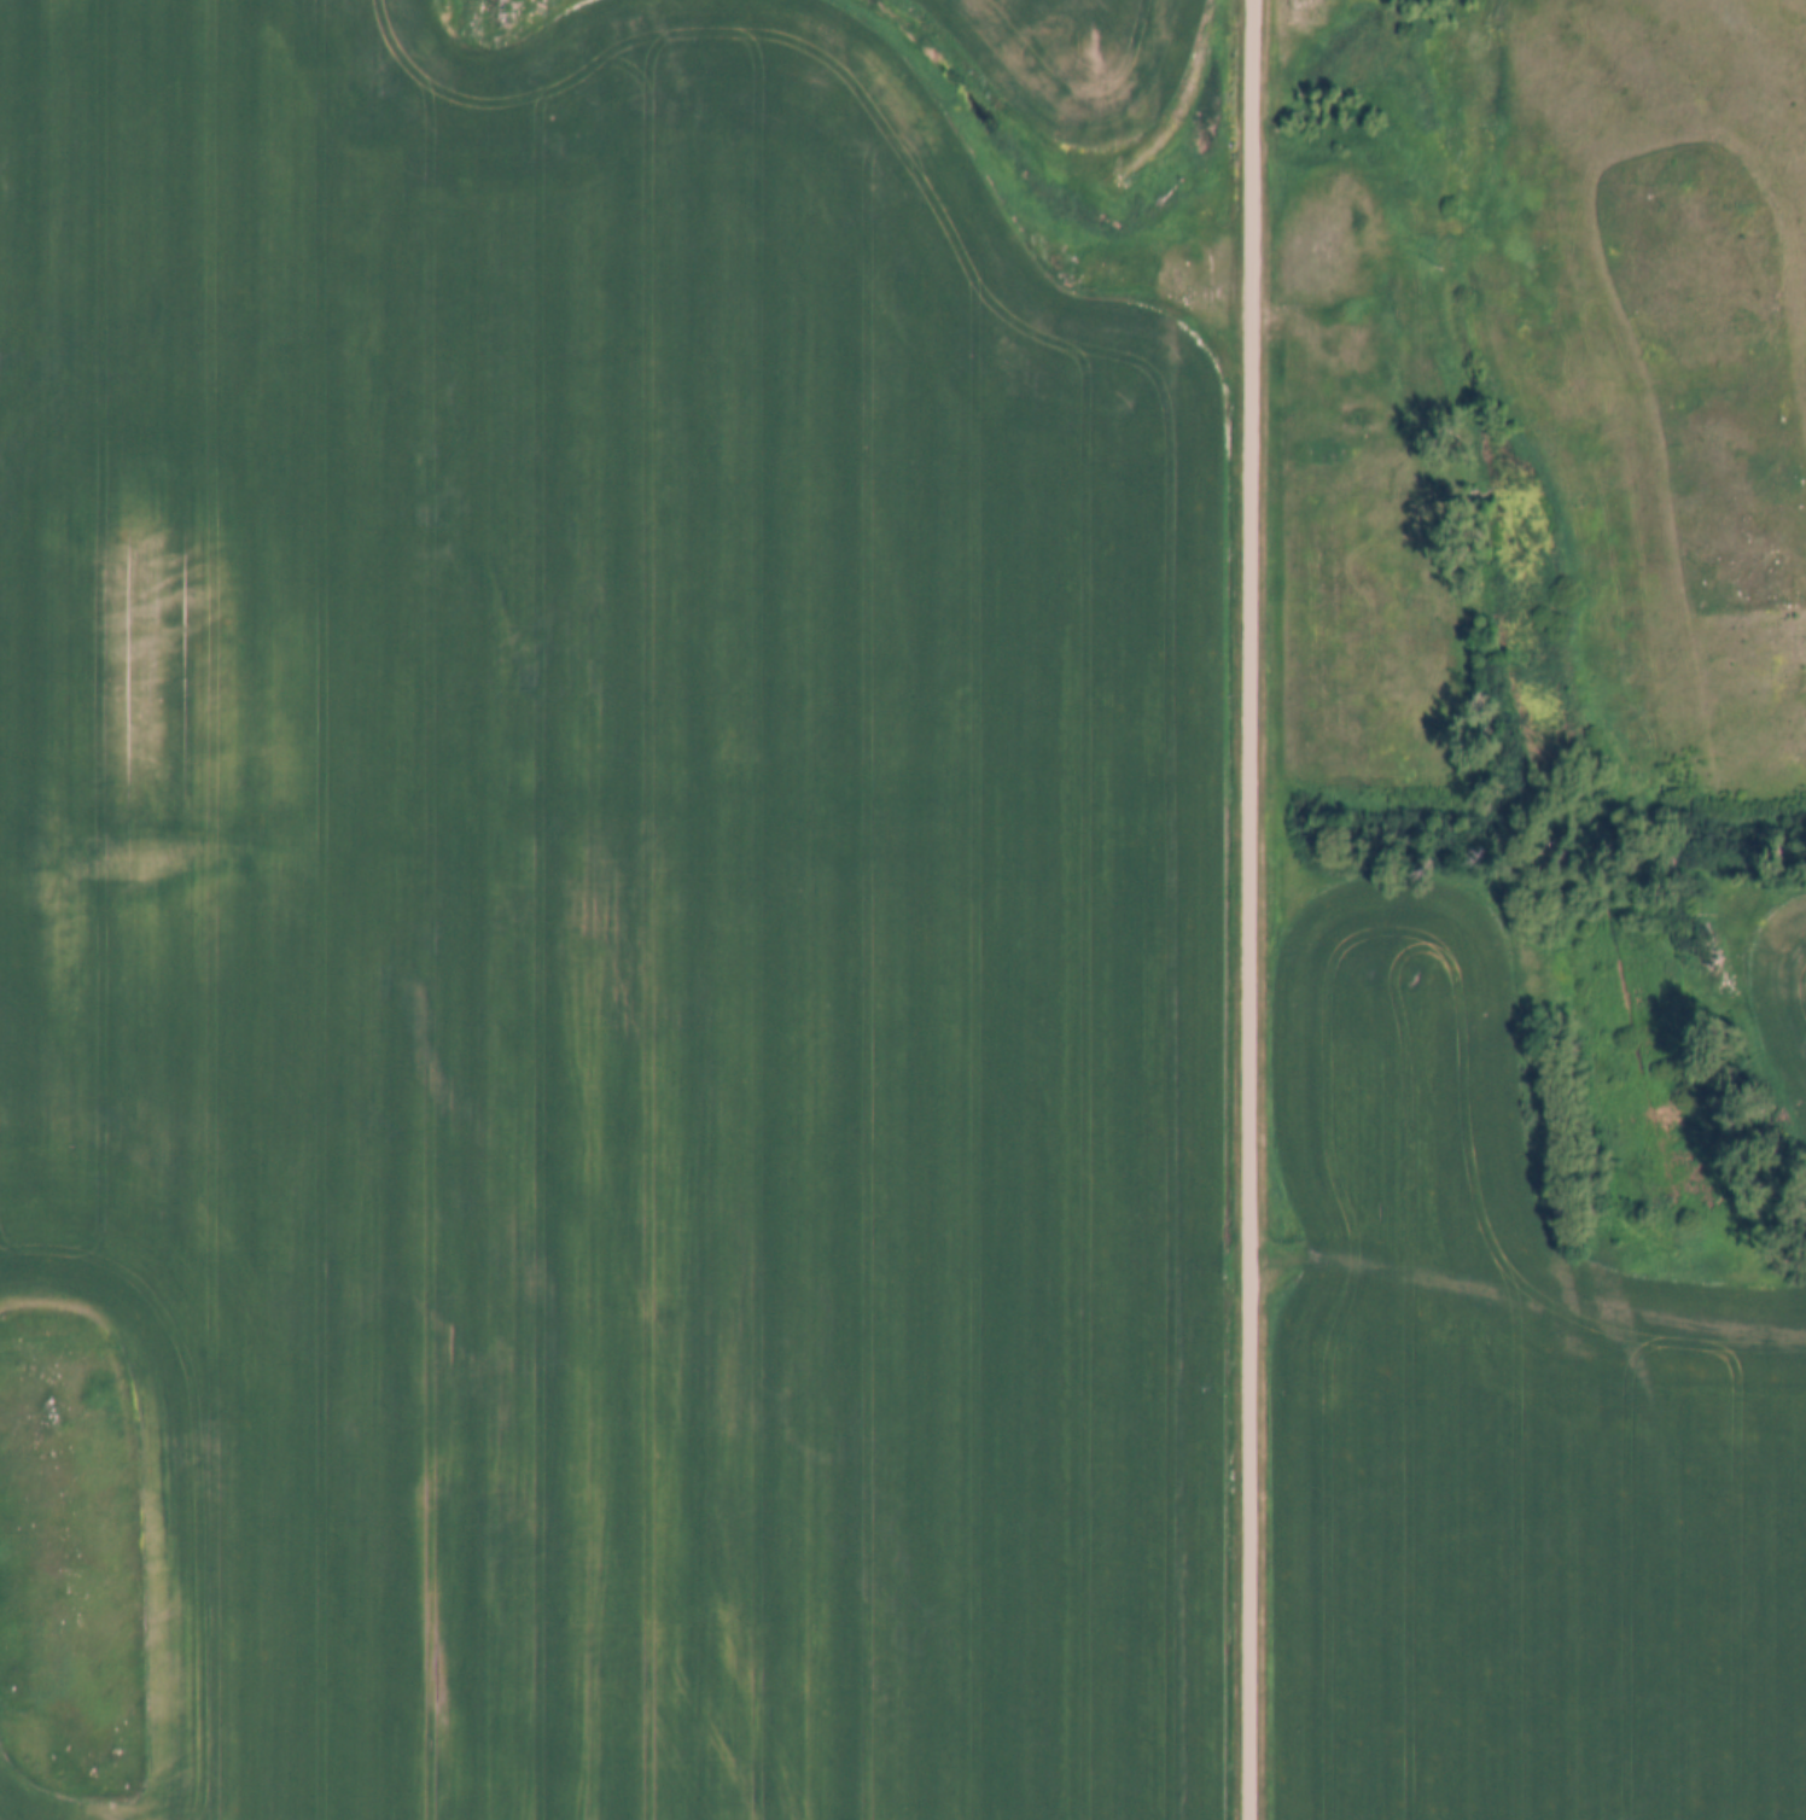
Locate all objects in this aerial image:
road: (1253, 909)

